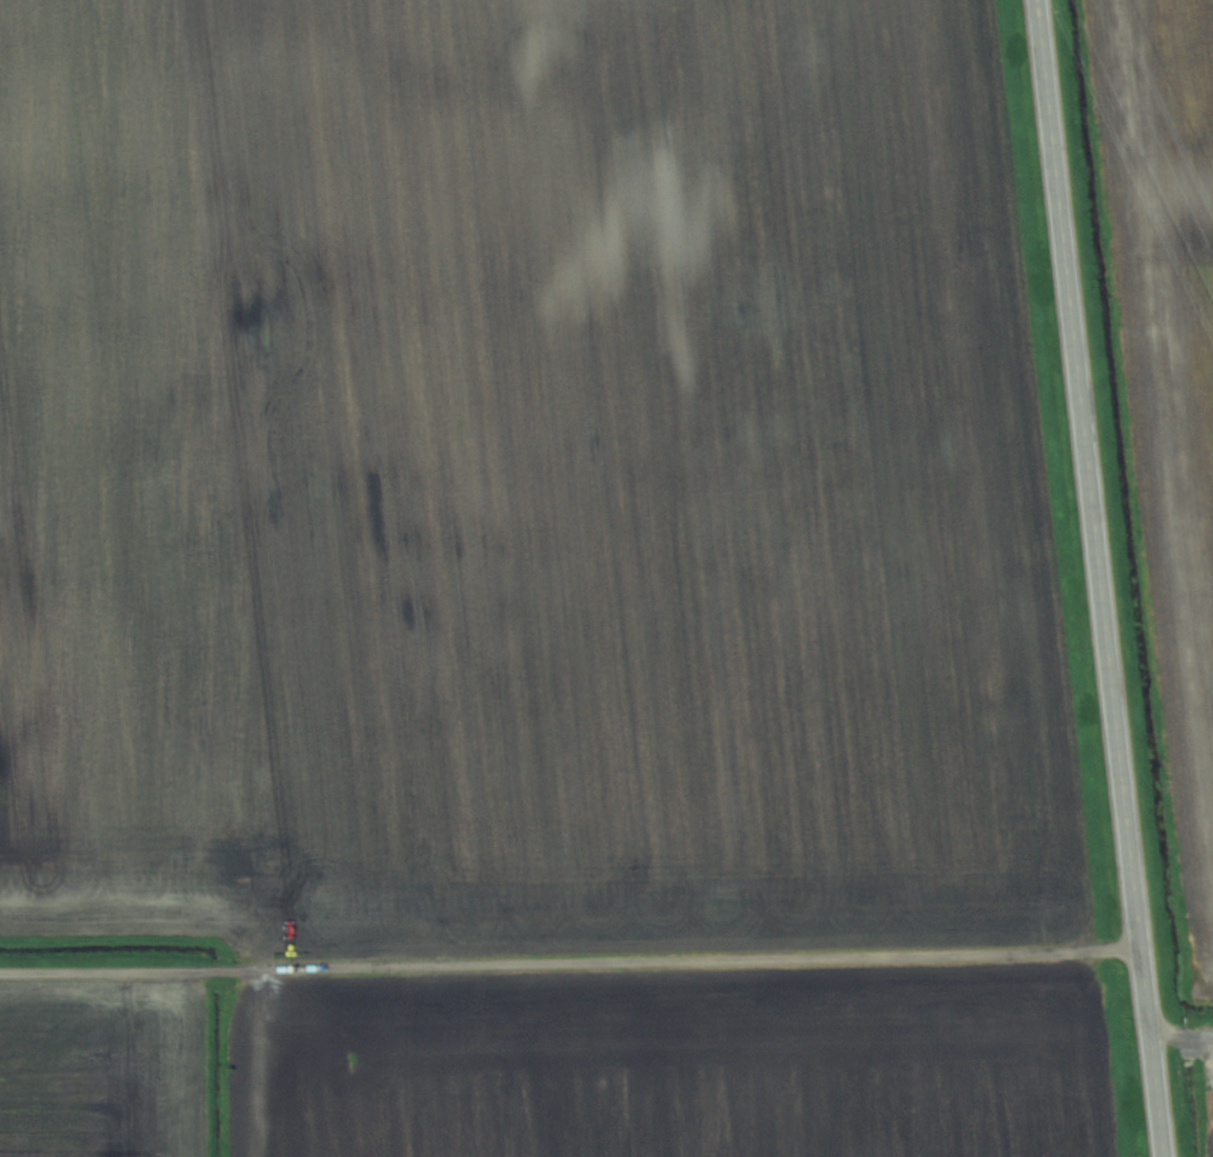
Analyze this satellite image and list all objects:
road: (1099, 578)
road: (570, 963)

